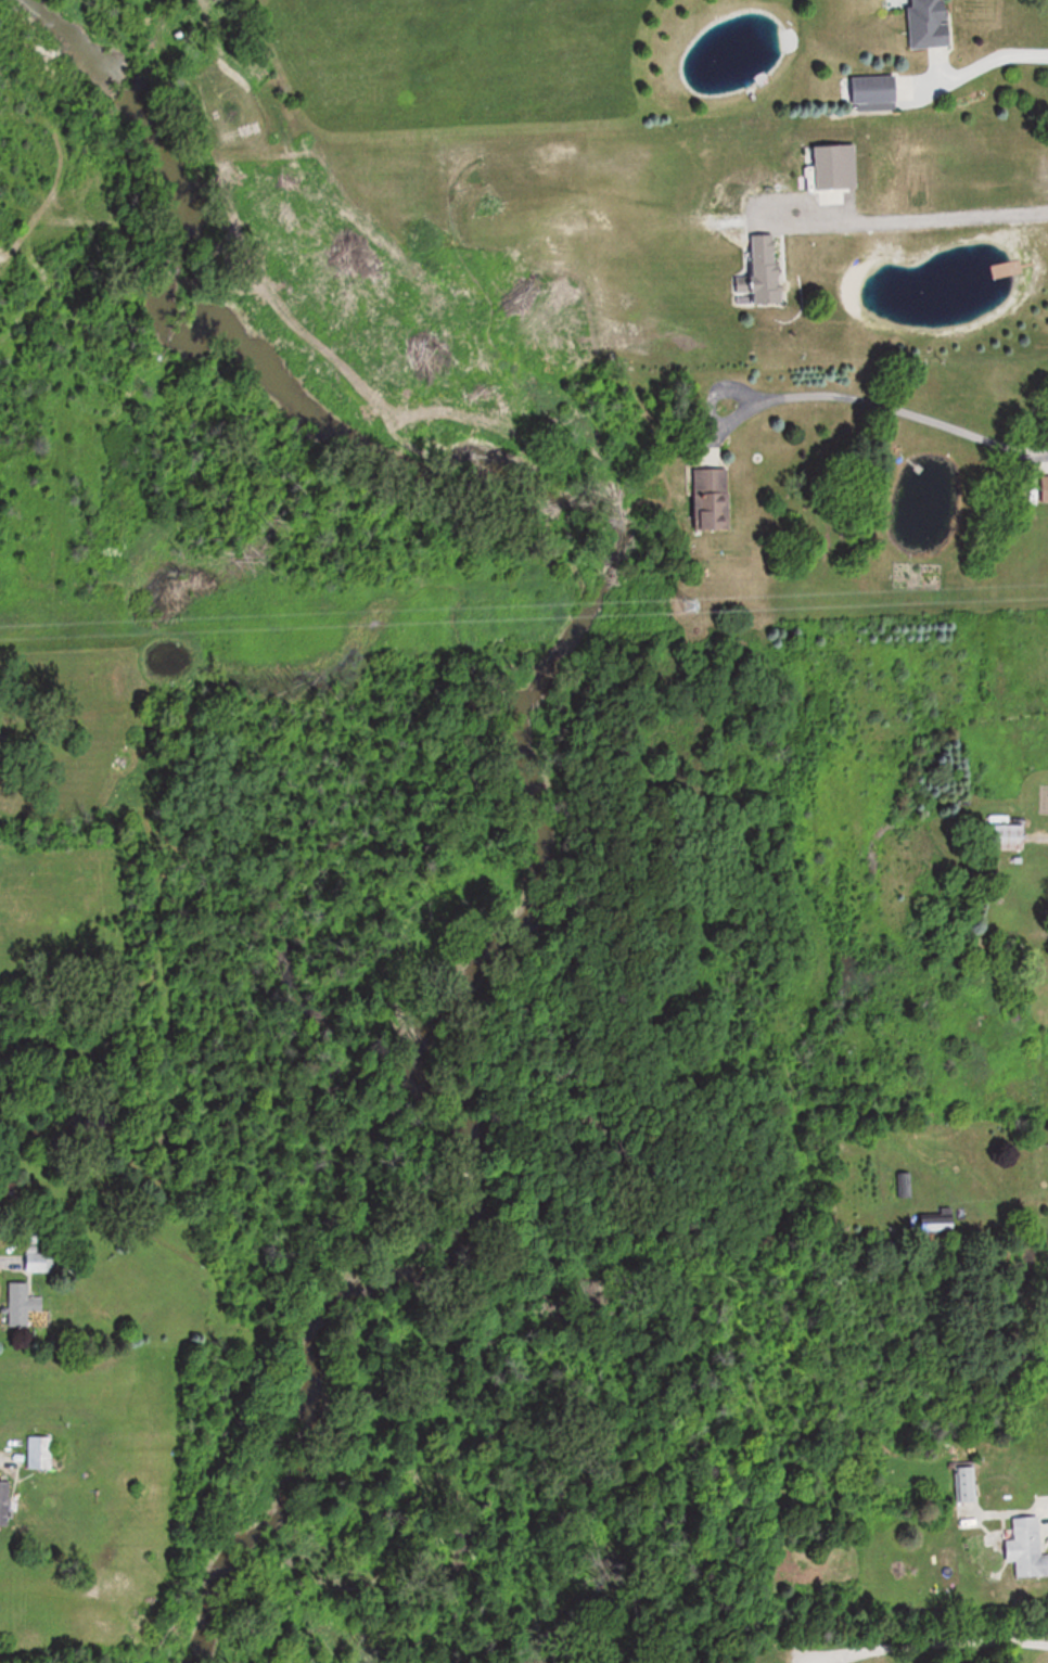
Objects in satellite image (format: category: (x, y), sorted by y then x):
building: (930, 23)
road: (984, 66)
building: (876, 90)
building: (832, 169)
road: (922, 220)
building: (766, 270)
road: (890, 413)
building: (1045, 488)
building: (712, 499)
power tower: (690, 607)
building: (1006, 834)
building: (935, 1226)
building: (40, 1262)
road: (9, 1266)
building: (22, 1304)
building: (40, 1451)
road: (3, 1458)
building: (964, 1484)
building: (5, 1504)
building: (1026, 1549)
road: (929, 1641)

